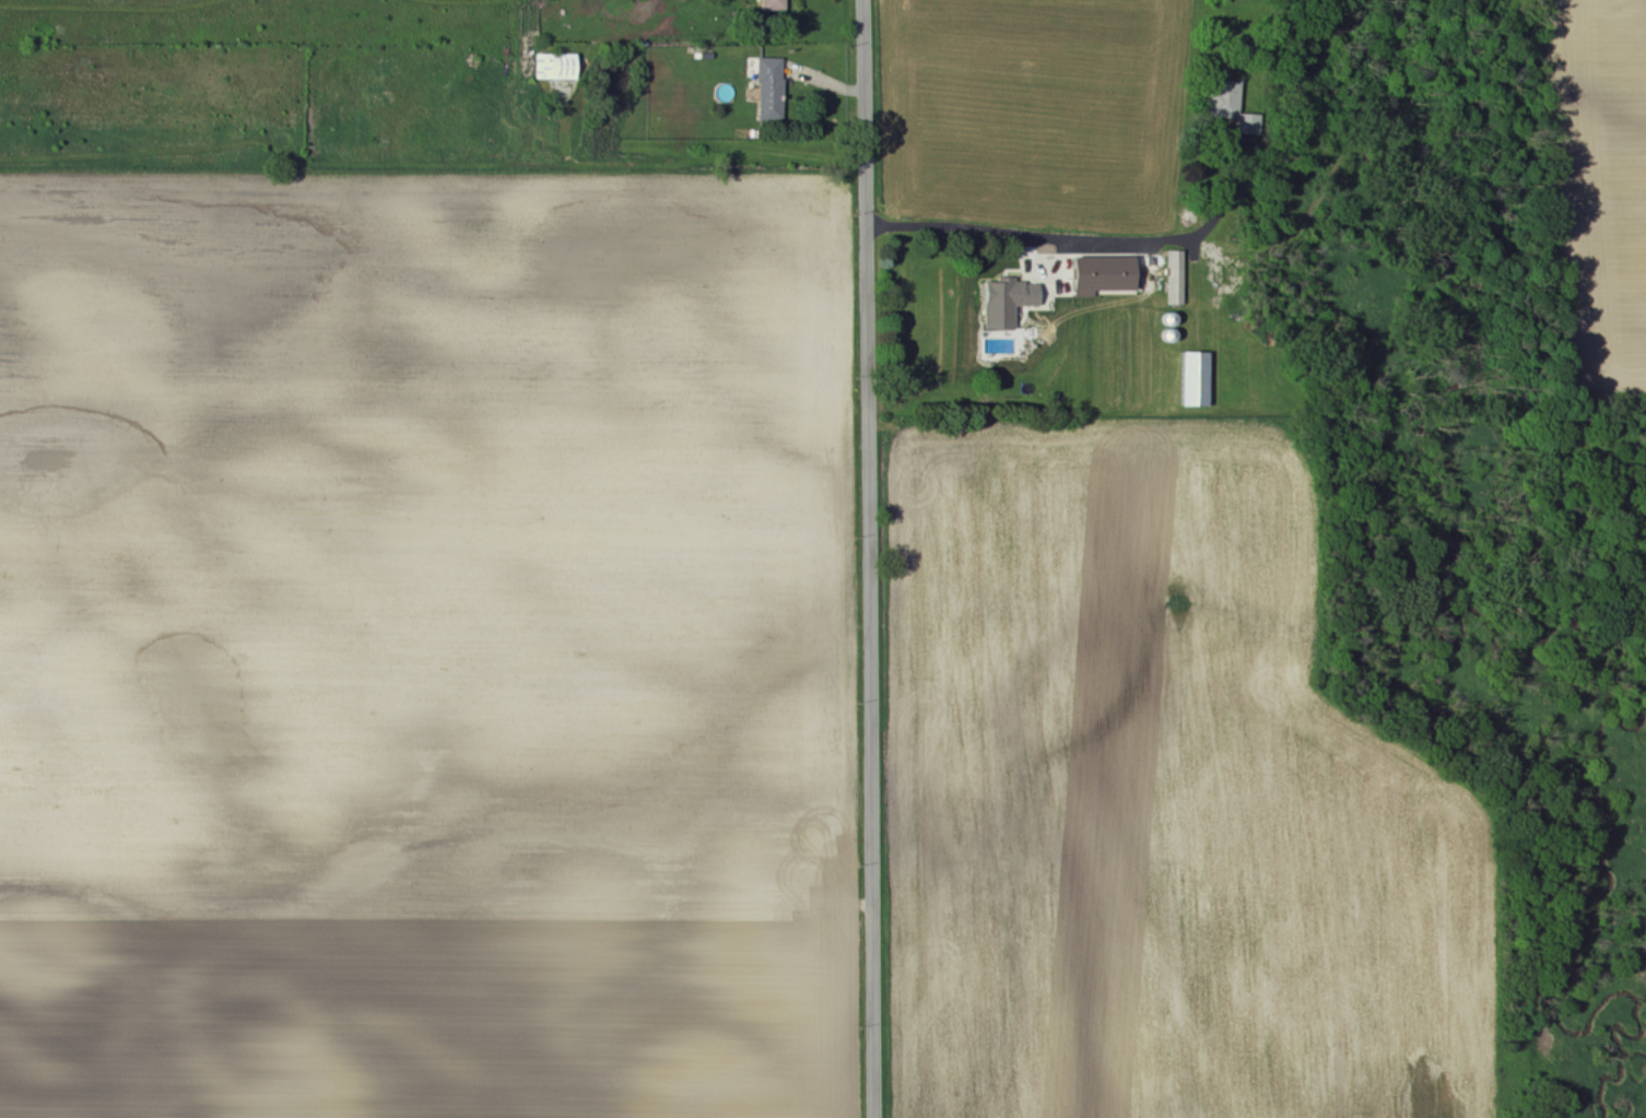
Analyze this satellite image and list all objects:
building: (772, 4)
building: (555, 67)
building: (768, 89)
building: (1230, 106)
road: (1071, 234)
building: (1103, 275)
building: (1176, 278)
building: (1007, 303)
building: (1196, 379)
road: (865, 558)

